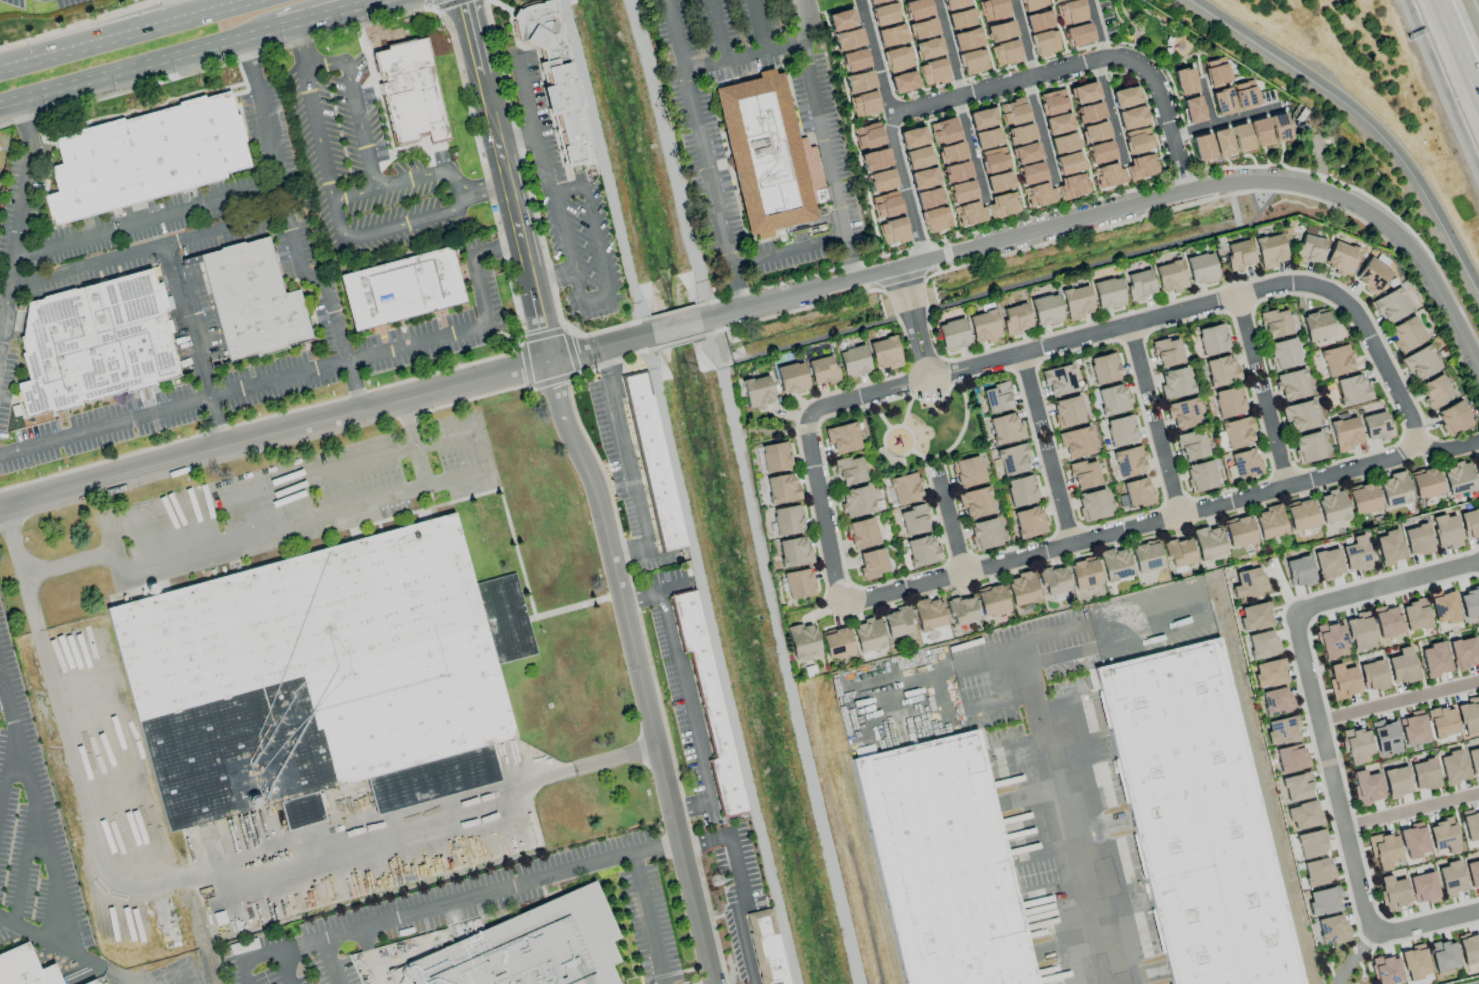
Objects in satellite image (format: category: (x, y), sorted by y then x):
building: (876, 1)
building: (955, 4)
building: (1033, 4)
building: (917, 9)
building: (994, 11)
building: (1071, 12)
road: (326, 14)
building: (885, 14)
building: (961, 19)
building: (1038, 21)
power tower: (436, 22)
road: (81, 24)
road: (761, 26)
road: (1058, 26)
road: (1142, 26)
road: (1098, 28)
building: (923, 29)
building: (845, 30)
building: (1000, 31)
road: (715, 32)
park: (1154, 32)
road: (126, 34)
building: (891, 35)
road: (985, 35)
building: (1078, 35)
road: (1024, 37)
road: (467, 38)
road: (1129, 38)
building: (967, 39)
road: (1135, 41)
road: (1461, 41)
building: (1045, 43)
road: (912, 45)
road: (950, 47)
building: (928, 48)
road: (298, 49)
road: (764, 53)
building: (1005, 53)
road: (875, 58)
building: (898, 59)
building: (854, 60)
road: (1162, 60)
building: (973, 61)
road: (1081, 61)
road: (1015, 66)
road: (138, 67)
building: (933, 72)
building: (1217, 72)
building: (1184, 81)
building: (859, 82)
building: (903, 82)
road: (1443, 83)
building: (416, 91)
building: (1083, 93)
building: (1246, 95)
building: (1125, 97)
building: (1053, 102)
building: (1223, 102)
building: (864, 104)
road: (1107, 108)
road: (353, 109)
building: (1193, 110)
building: (1013, 112)
building: (1088, 113)
road: (1363, 117)
building: (982, 118)
building: (1131, 118)
road: (870, 121)
road: (1222, 121)
building: (571, 123)
building: (1057, 124)
building: (1279, 128)
road: (1038, 129)
building: (944, 130)
building: (1094, 132)
building: (1260, 132)
building: (1020, 134)
building: (868, 135)
road: (852, 136)
building: (912, 137)
building: (987, 138)
building: (1241, 138)
road: (515, 140)
building: (1137, 140)
road: (899, 142)
road: (1082, 142)
building: (1222, 142)
building: (1063, 143)
building: (1202, 147)
road: (971, 148)
building: (951, 152)
building: (1099, 152)
building: (1025, 153)
road: (705, 154)
building: (767, 155)
building: (917, 157)
building: (152, 158)
building: (875, 159)
building: (993, 159)
road: (1011, 160)
road: (828, 161)
building: (1067, 163)
building: (1141, 166)
building: (955, 172)
building: (1030, 173)
building: (1107, 175)
building: (923, 178)
road: (941, 179)
road: (550, 180)
building: (881, 180)
building: (998, 181)
road: (401, 183)
road: (483, 184)
road: (503, 185)
building: (1072, 186)
road: (904, 190)
building: (961, 192)
building: (1038, 194)
building: (928, 198)
road: (211, 201)
building: (886, 204)
building: (1002, 204)
road: (1131, 207)
road: (15, 210)
building: (969, 213)
building: (935, 219)
road: (339, 225)
road: (593, 228)
road: (226, 230)
building: (893, 231)
road: (945, 244)
road: (496, 248)
building: (1309, 249)
building: (1270, 250)
road: (790, 251)
road: (892, 254)
road: (947, 254)
building: (1238, 255)
building: (1340, 258)
road: (951, 265)
building: (1200, 268)
road: (939, 271)
building: (1371, 275)
building: (1169, 277)
road: (551, 278)
road: (901, 278)
building: (1139, 284)
building: (402, 287)
road: (1262, 290)
building: (1107, 293)
road: (596, 300)
building: (1076, 302)
building: (252, 303)
building: (1390, 305)
building: (1045, 309)
building: (1014, 319)
road: (188, 323)
road: (915, 323)
building: (1275, 323)
building: (1316, 325)
building: (983, 326)
road: (537, 327)
road: (671, 328)
road: (1245, 328)
building: (952, 334)
building: (1406, 334)
building: (1212, 339)
building: (96, 342)
road: (592, 347)
building: (1166, 352)
building: (884, 353)
building: (1283, 354)
road: (1137, 358)
building: (1336, 360)
building: (853, 361)
building: (1420, 363)
building: (1104, 368)
power tower: (594, 369)
building: (821, 371)
building: (1221, 371)
building: (791, 378)
building: (1058, 380)
road: (281, 381)
building: (1175, 382)
road: (552, 385)
building: (1291, 385)
road: (354, 387)
road: (1030, 390)
building: (1352, 390)
building: (1435, 391)
building: (757, 392)
building: (997, 397)
building: (1112, 400)
building: (1228, 402)
building: (1067, 411)
building: (1182, 413)
building: (1299, 416)
building: (1453, 418)
road: (214, 424)
park: (921, 424)
building: (1376, 426)
building: (1005, 429)
building: (1120, 431)
building: (1237, 433)
building: (1345, 433)
road: (272, 434)
building: (842, 438)
building: (1075, 442)
road: (1275, 442)
road: (413, 444)
building: (1192, 445)
road: (1447, 450)
building: (775, 457)
building: (1011, 459)
building: (651, 461)
building: (1128, 461)
road: (628, 463)
building: (1244, 464)
building: (848, 470)
road: (1168, 470)
building: (967, 471)
building: (1477, 472)
building: (1084, 474)
building: (1200, 476)
building: (1458, 478)
building: (1425, 483)
building: (905, 488)
building: (781, 489)
building: (1394, 489)
building: (1021, 491)
road: (411, 492)
building: (1137, 492)
building: (1363, 499)
building: (856, 501)
road: (1057, 501)
building: (975, 503)
building: (1092, 505)
building: (1332, 506)
building: (1301, 515)
building: (786, 520)
building: (913, 520)
building: (1029, 522)
building: (1270, 522)
road: (949, 523)
building: (1469, 523)
building: (1445, 531)
building: (1238, 532)
building: (861, 533)
building: (985, 534)
building: (1417, 540)
building: (1208, 542)
building: (1389, 547)
building: (922, 551)
building: (794, 552)
building: (1178, 552)
building: (1356, 554)
building: (1146, 556)
building: (872, 564)
building: (1114, 564)
building: (1327, 564)
building: (1298, 571)
building: (1084, 573)
building: (1053, 580)
building: (798, 583)
building: (1247, 583)
road: (929, 584)
road: (666, 588)
building: (1022, 588)
road: (637, 598)
building: (991, 600)
building: (1469, 603)
building: (1443, 607)
building: (962, 611)
building: (928, 614)
building: (1414, 615)
building: (1254, 616)
building: (1387, 621)
building: (896, 622)
building: (1359, 631)
building: (868, 634)
building: (802, 639)
building: (1331, 640)
building: (1477, 641)
building: (837, 643)
road: (1116, 644)
building: (1262, 644)
road: (779, 651)
building: (1463, 653)
road: (716, 659)
building: (1434, 659)
building: (1402, 666)
building: (1267, 673)
building: (1372, 675)
building: (325, 677)
building: (1342, 681)
park: (1477, 689)
road: (646, 694)
building: (1275, 701)
road: (1398, 701)
building: (708, 703)
road: (688, 705)
building: (1469, 715)
building: (1441, 722)
building: (1412, 728)
building: (1281, 730)
road: (1321, 733)
building: (1384, 737)
building: (1356, 744)
building: (1290, 758)
building: (1473, 761)
building: (1452, 767)
road: (6, 772)
building: (1424, 774)
building: (1396, 782)
building: (1296, 787)
building: (1366, 787)
road: (36, 809)
road: (686, 811)
road: (1412, 811)
building: (1303, 815)
building: (1203, 822)
building: (1470, 824)
road: (1067, 826)
railway: (836, 835)
building: (1443, 835)
road: (706, 839)
building: (1413, 840)
building: (1311, 843)
road: (657, 848)
building: (1383, 850)
building: (950, 864)
road: (25, 868)
railway: (871, 870)
building: (1317, 872)
power tower: (718, 873)
building: (1472, 873)
road: (199, 875)
railway: (856, 875)
building: (1450, 879)
building: (1423, 888)
building: (1392, 893)
building: (1323, 900)
railway: (194, 905)
road: (435, 906)
road: (739, 907)
road: (648, 917)
building: (1331, 929)
building: (531, 946)
building: (766, 948)
building: (1469, 948)
road: (68, 949)
building: (1443, 955)
road: (1356, 957)
road: (330, 961)
building: (1414, 963)
road: (284, 967)
building: (29, 969)
building: (1386, 970)
road: (241, 972)
building: (90, 982)
building: (101, 983)

